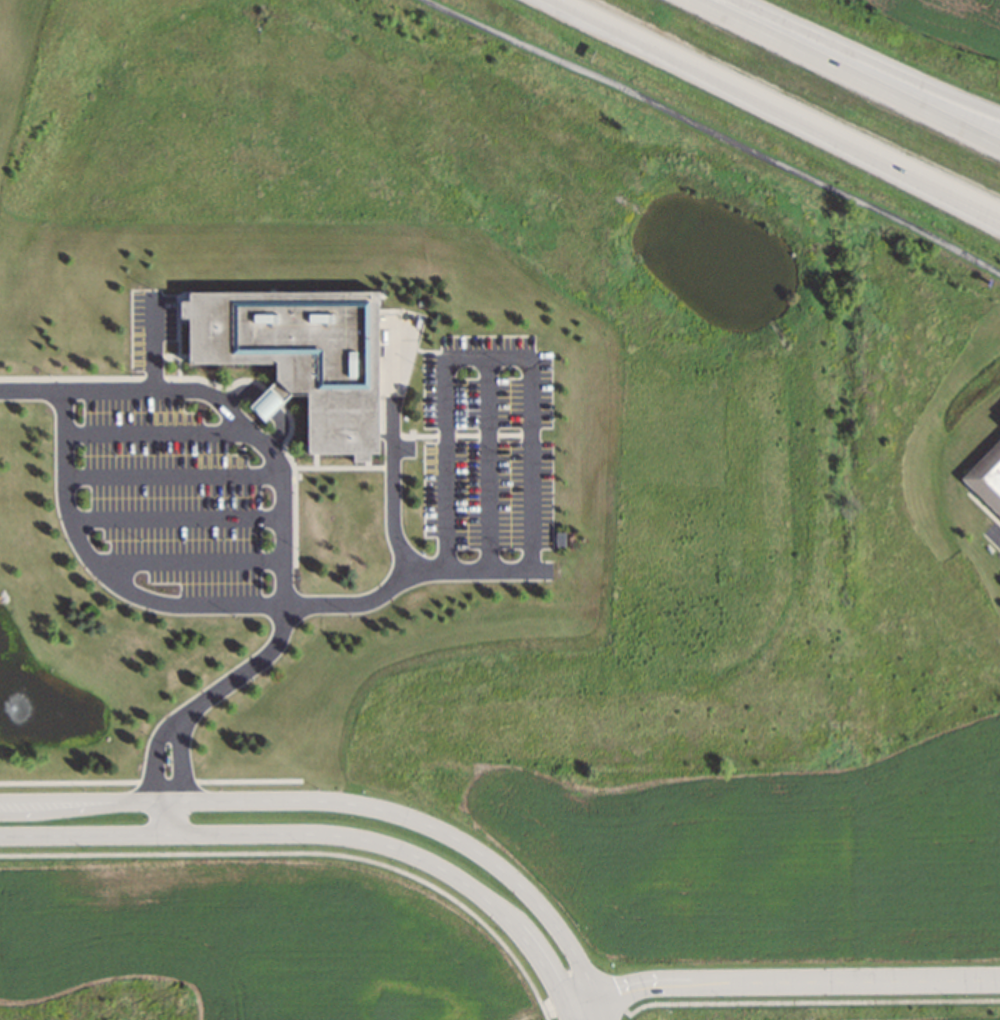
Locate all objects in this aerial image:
road: (867, 60)
road: (847, 73)
road: (779, 105)
road: (717, 132)
road: (935, 186)
building: (296, 354)
building: (999, 421)
road: (276, 463)
building: (986, 479)
building: (559, 538)
road: (154, 755)
road: (180, 758)
road: (91, 803)
road: (169, 813)
road: (438, 828)
road: (325, 834)
road: (781, 981)

